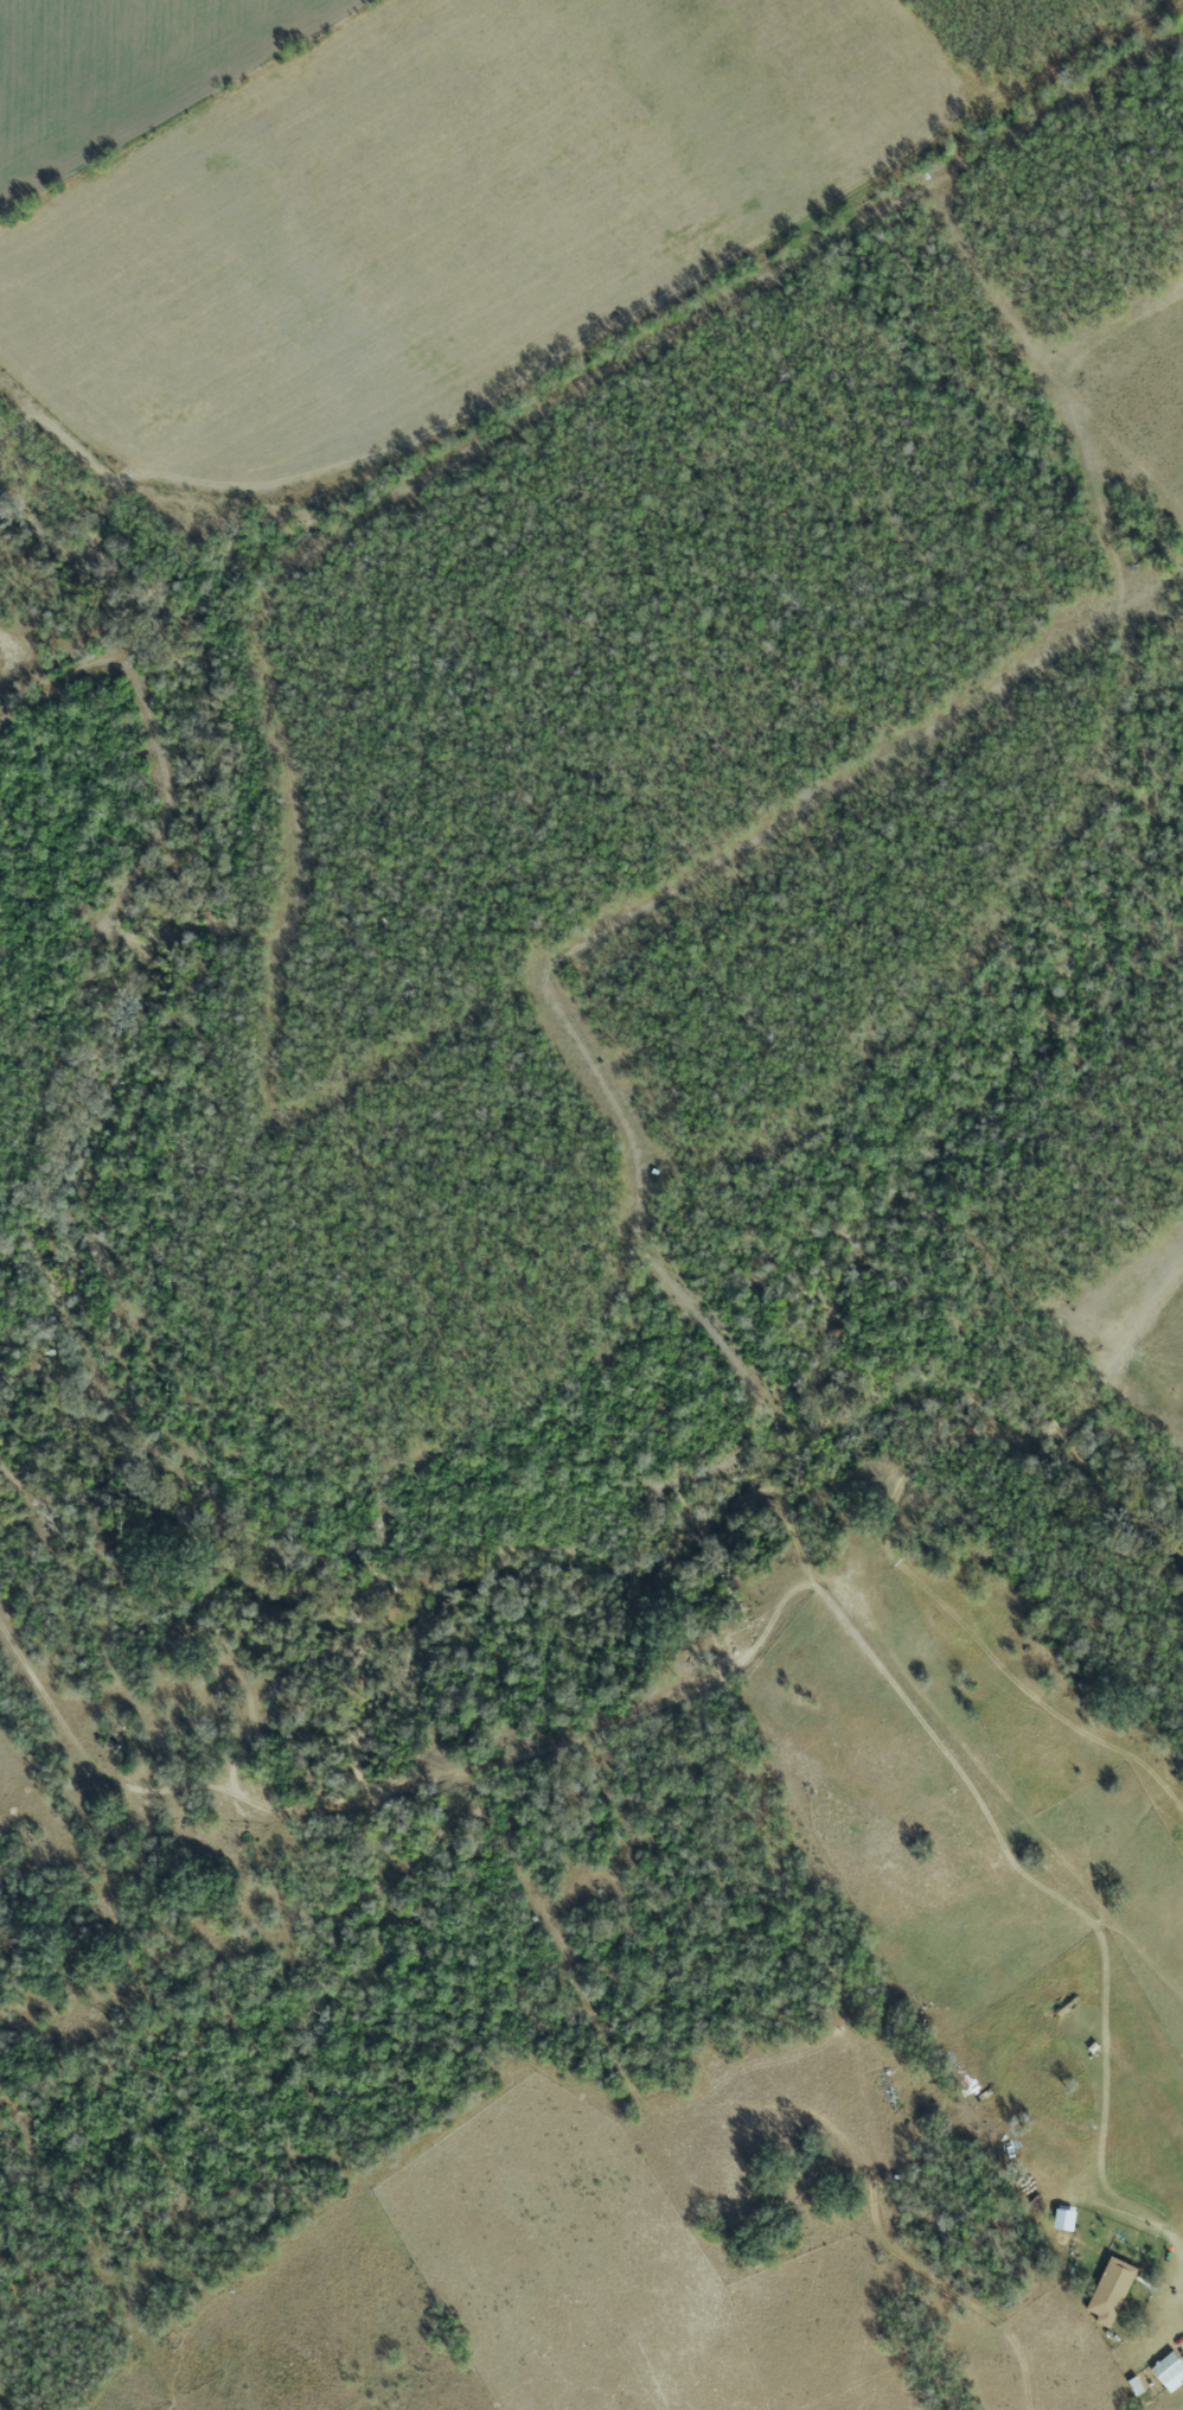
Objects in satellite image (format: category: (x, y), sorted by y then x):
building: (1108, 2291)
building: (1166, 2372)

